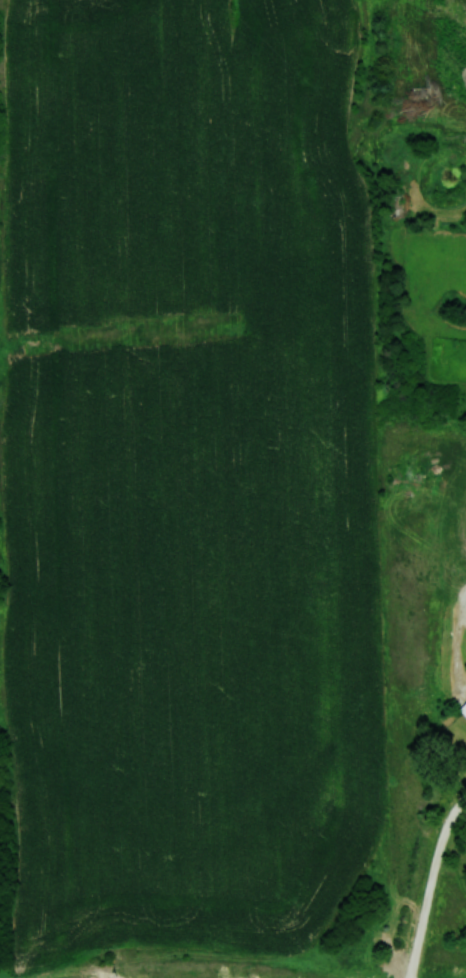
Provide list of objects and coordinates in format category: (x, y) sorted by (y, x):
crop: (188, 479)
building: (463, 709)
road: (431, 884)

